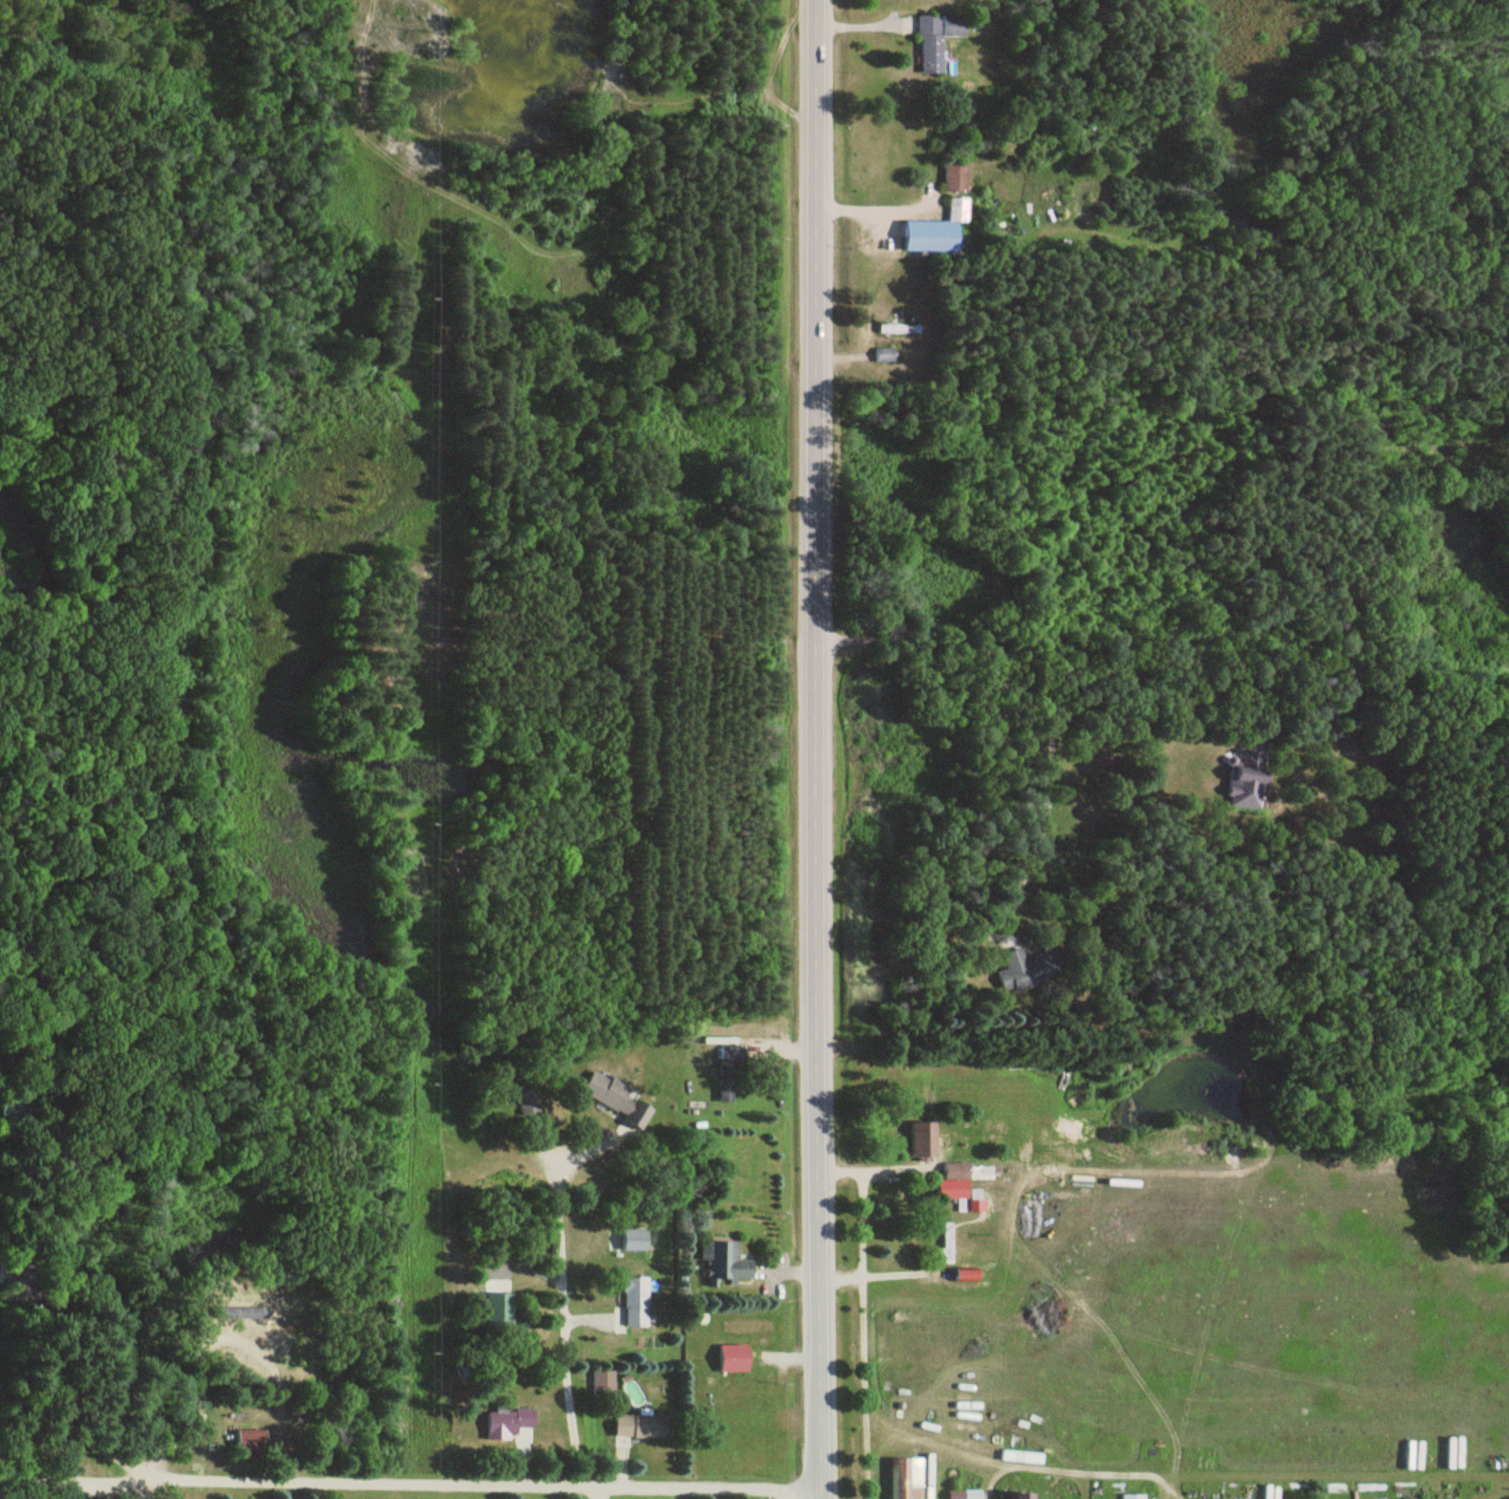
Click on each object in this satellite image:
building: (939, 41)
building: (957, 175)
building: (959, 210)
building: (901, 330)
building: (886, 356)
road: (814, 749)
building: (1247, 781)
building: (1030, 970)
road: (1161, 1036)
building: (730, 1072)
building: (617, 1100)
building: (924, 1143)
building: (957, 1172)
building: (636, 1241)
building: (726, 1262)
road: (876, 1273)
building: (637, 1303)
road: (553, 1320)
building: (739, 1358)
building: (605, 1384)
building: (509, 1424)
building: (642, 1427)
building: (252, 1443)
building: (917, 1476)
road: (410, 1486)
building: (965, 1495)
building: (1019, 1496)
building: (1132, 1497)

